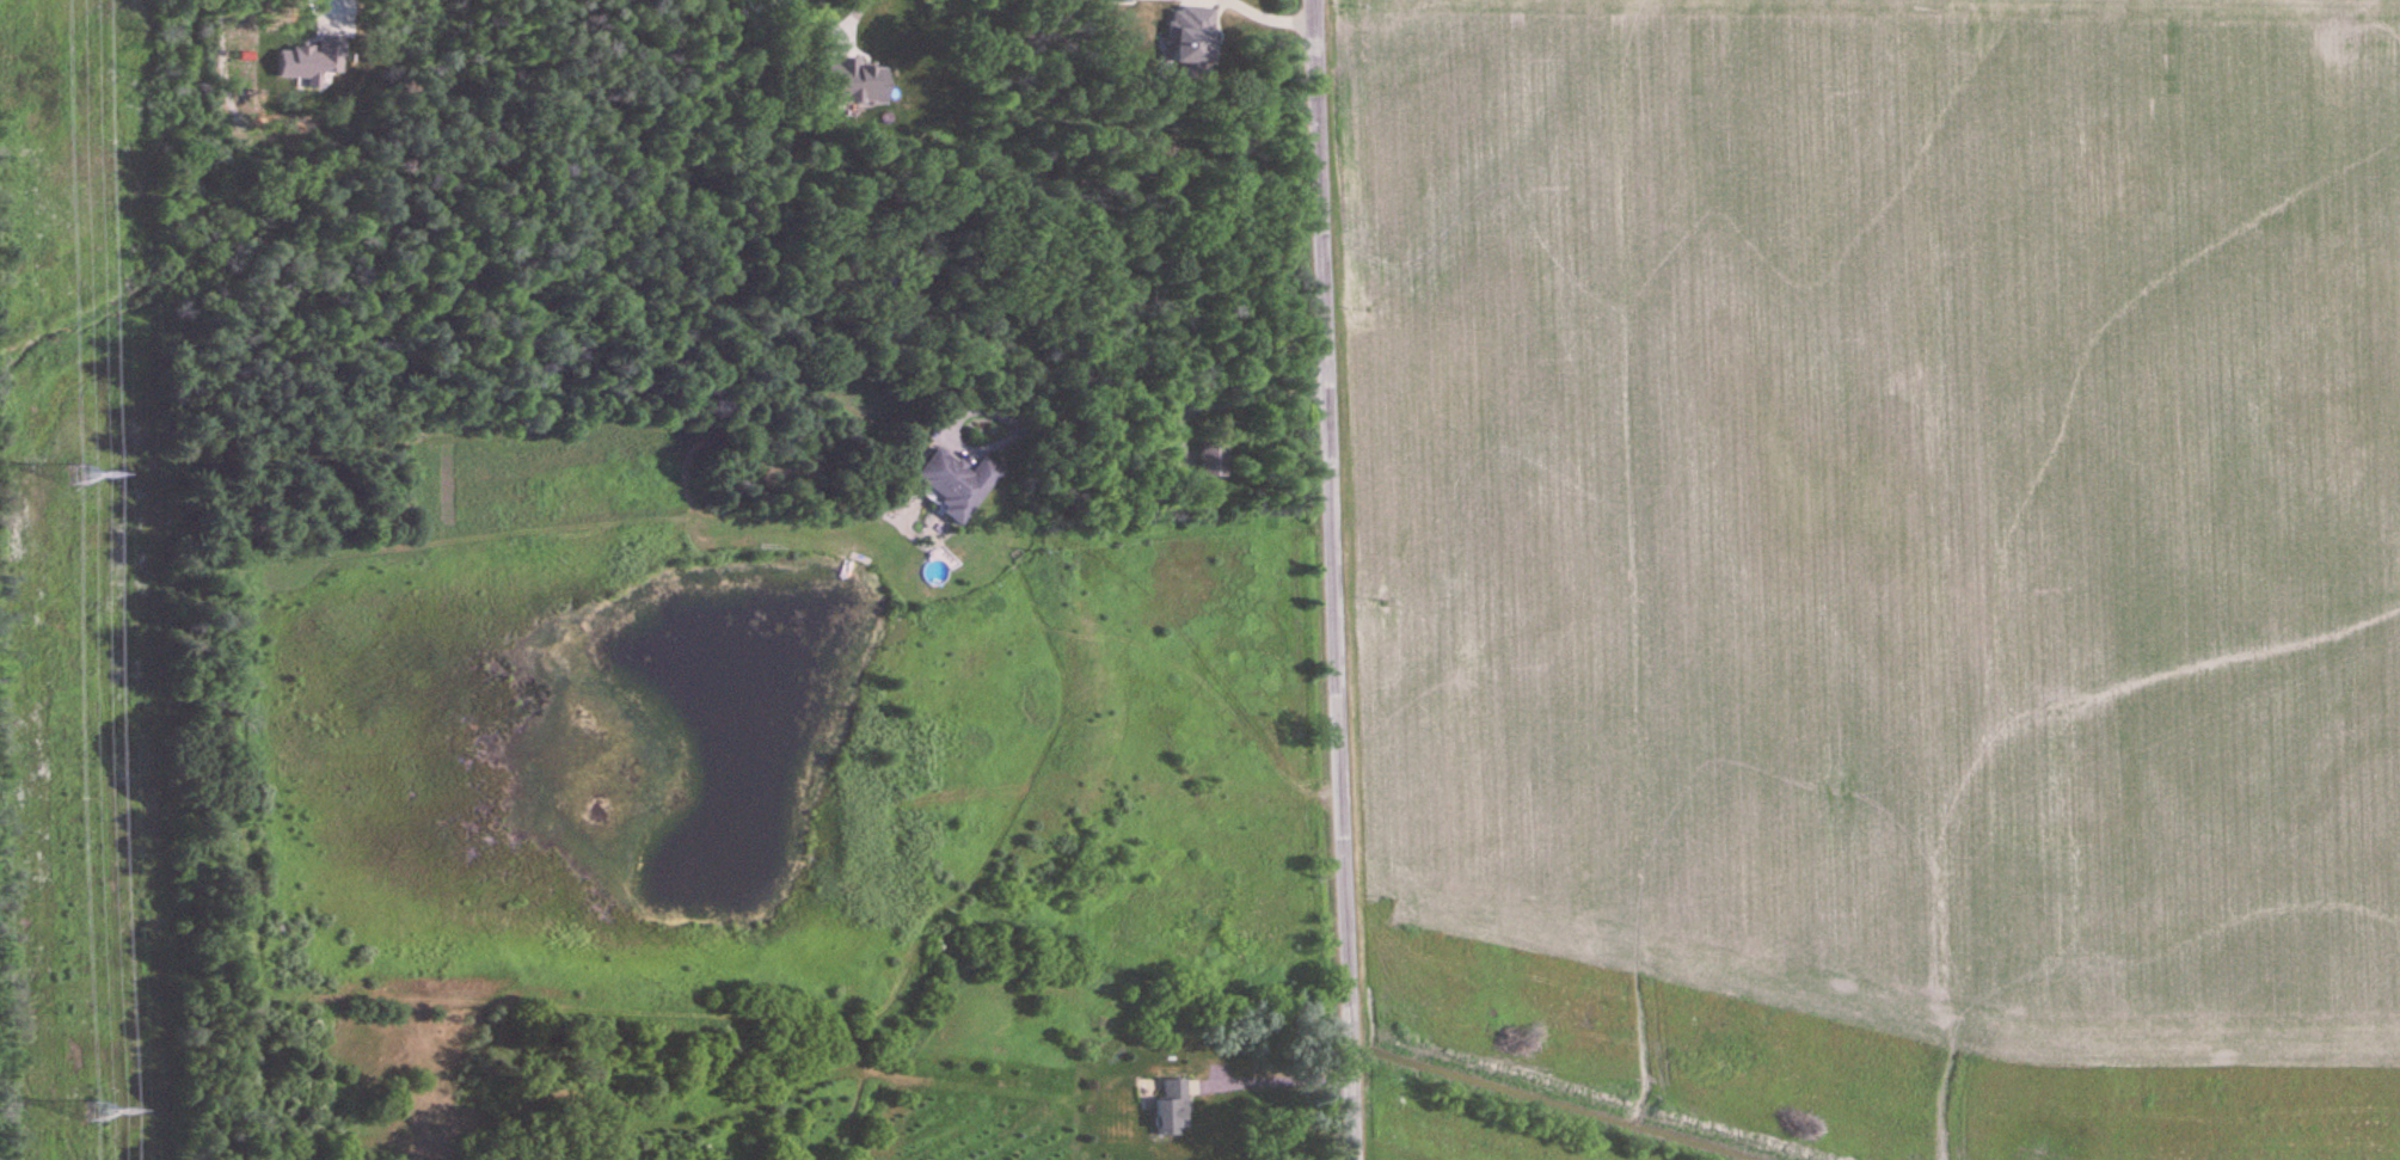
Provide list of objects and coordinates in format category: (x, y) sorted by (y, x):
road: (846, 18)
road: (1087, 416)
building: (1215, 459)
power tower: (80, 473)
building: (957, 484)
crop: (1889, 505)
road: (1336, 579)
crop: (1861, 1067)
road: (1277, 1078)
building: (1173, 1106)
power tower: (97, 1111)

